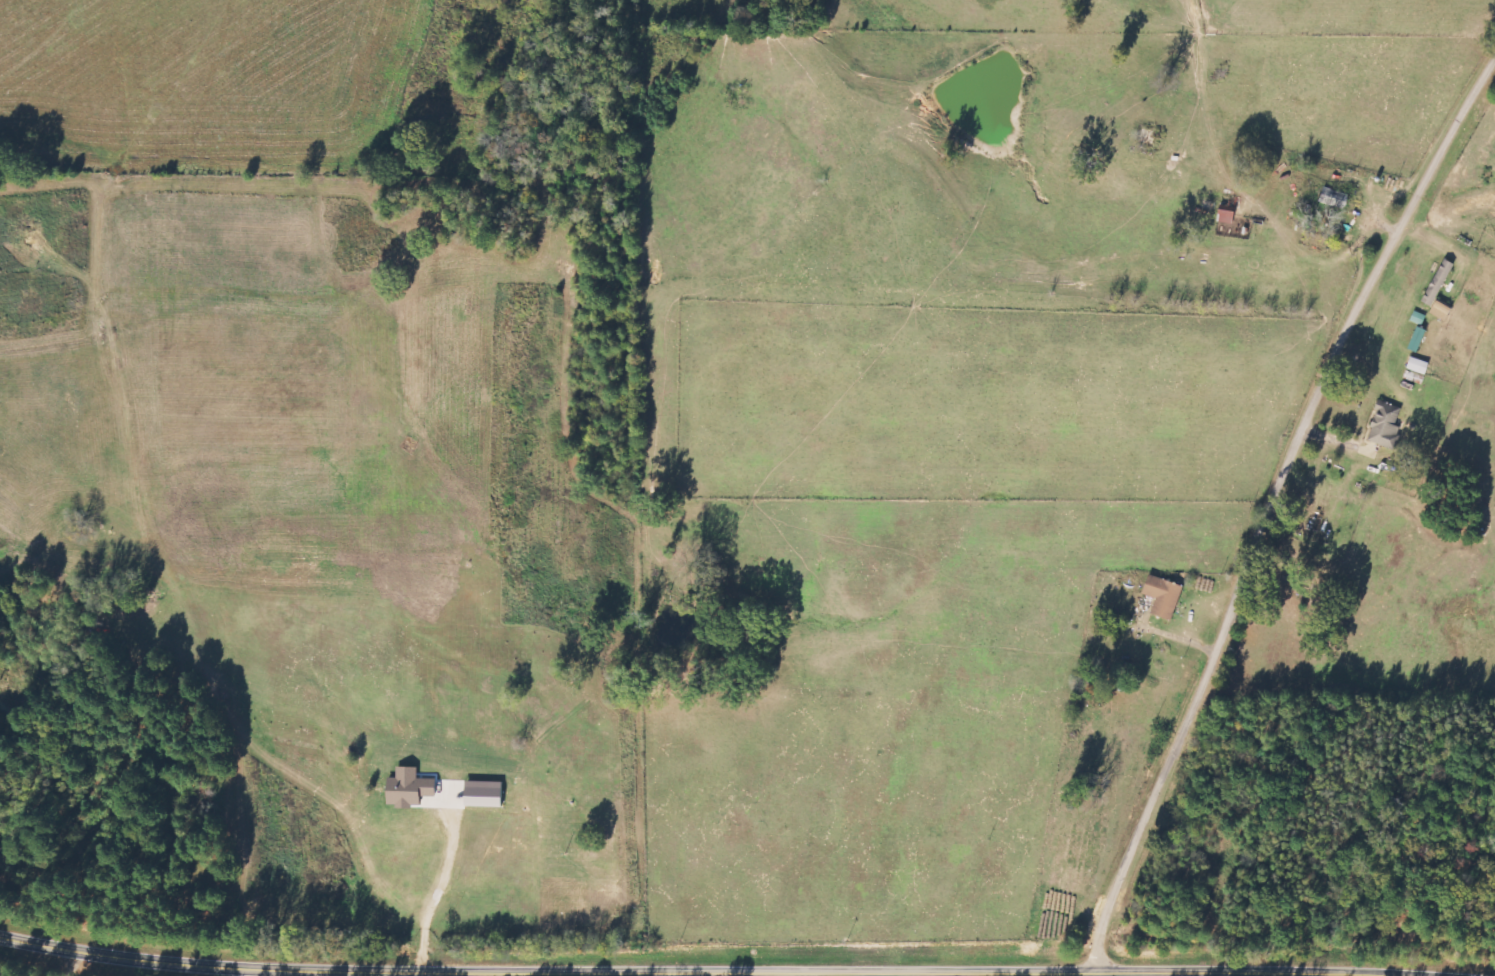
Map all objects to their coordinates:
building: (1335, 200)
building: (1440, 283)
building: (1444, 311)
building: (1421, 318)
building: (1420, 340)
building: (1420, 367)
building: (1387, 427)
road: (1277, 514)
building: (1166, 597)
building: (407, 789)
building: (481, 794)
road: (74, 964)
road: (715, 971)
road: (1423, 975)

